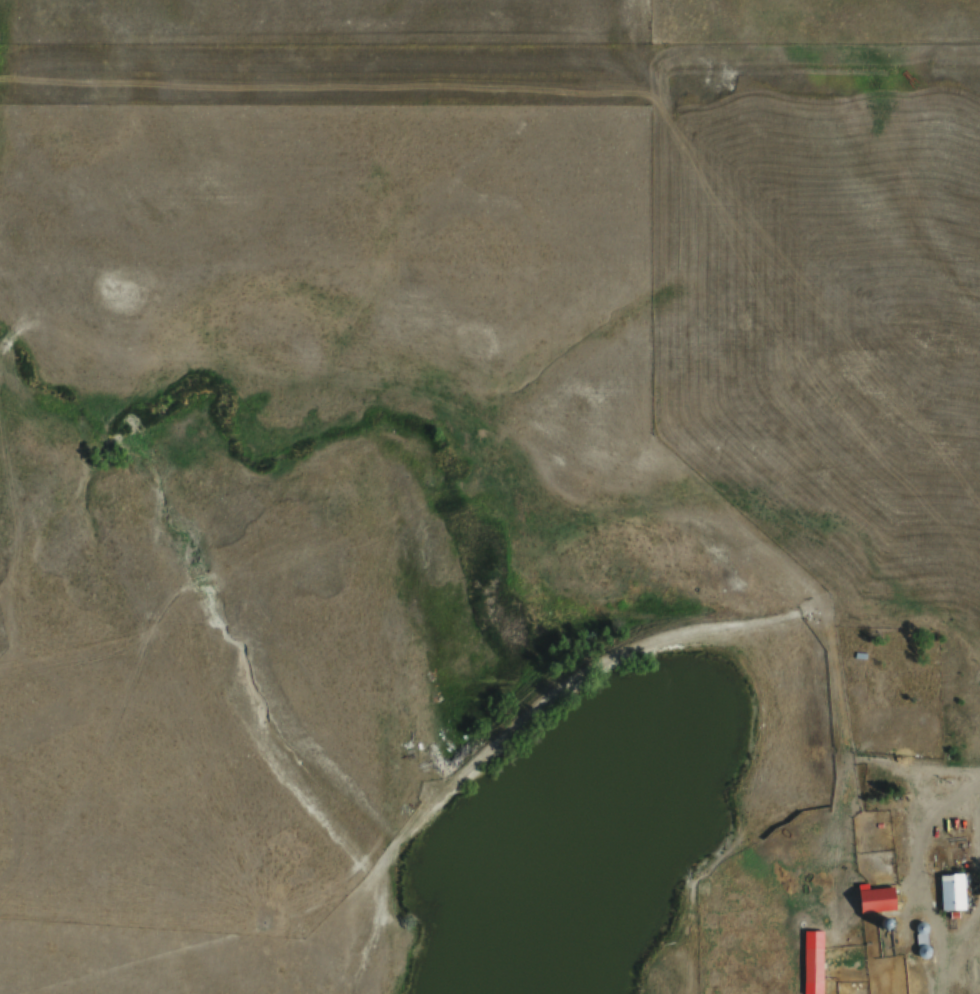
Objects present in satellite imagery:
dam: (600, 650)
building: (887, 738)
road: (965, 768)
building: (883, 808)
building: (949, 892)
building: (872, 901)

